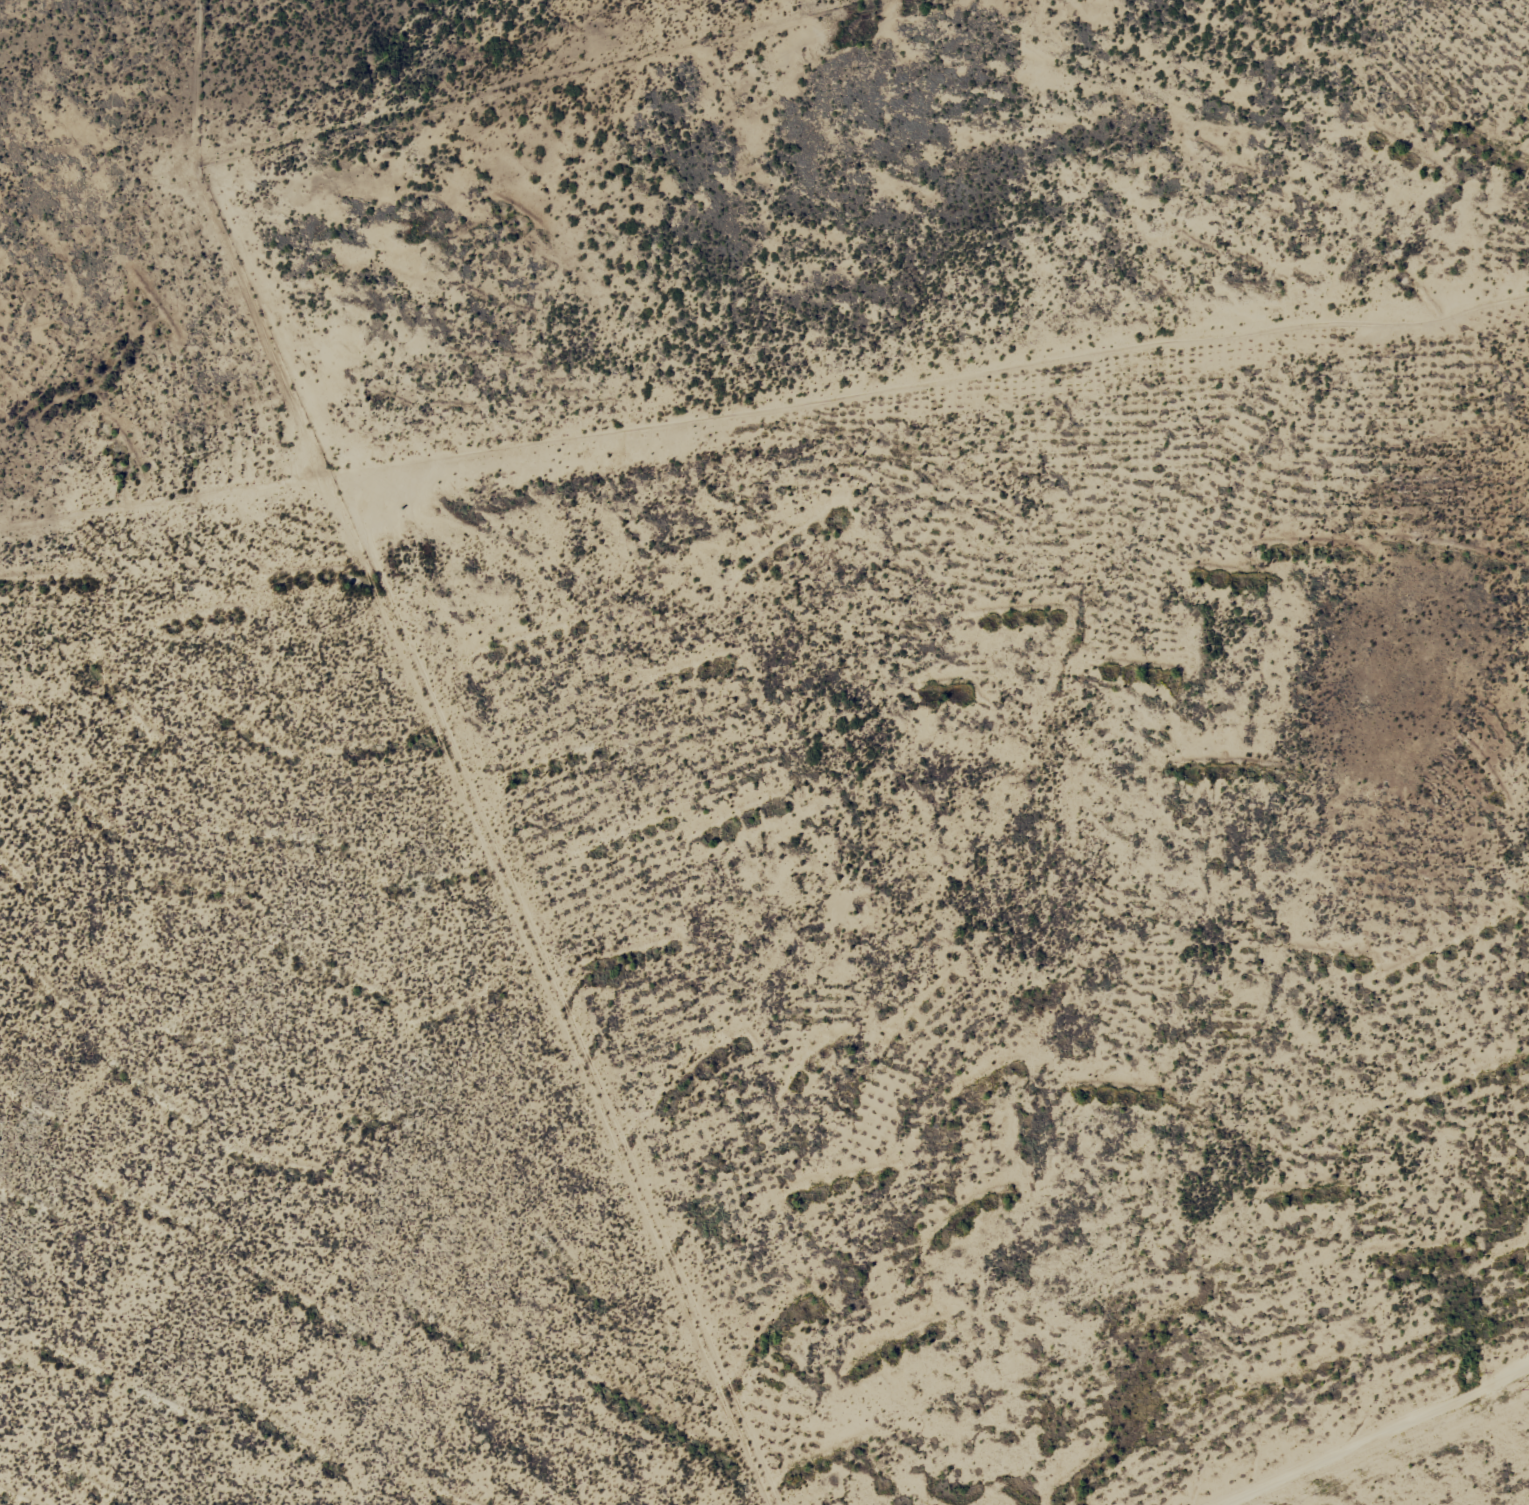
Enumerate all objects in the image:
power tower: (1519, 1386)

